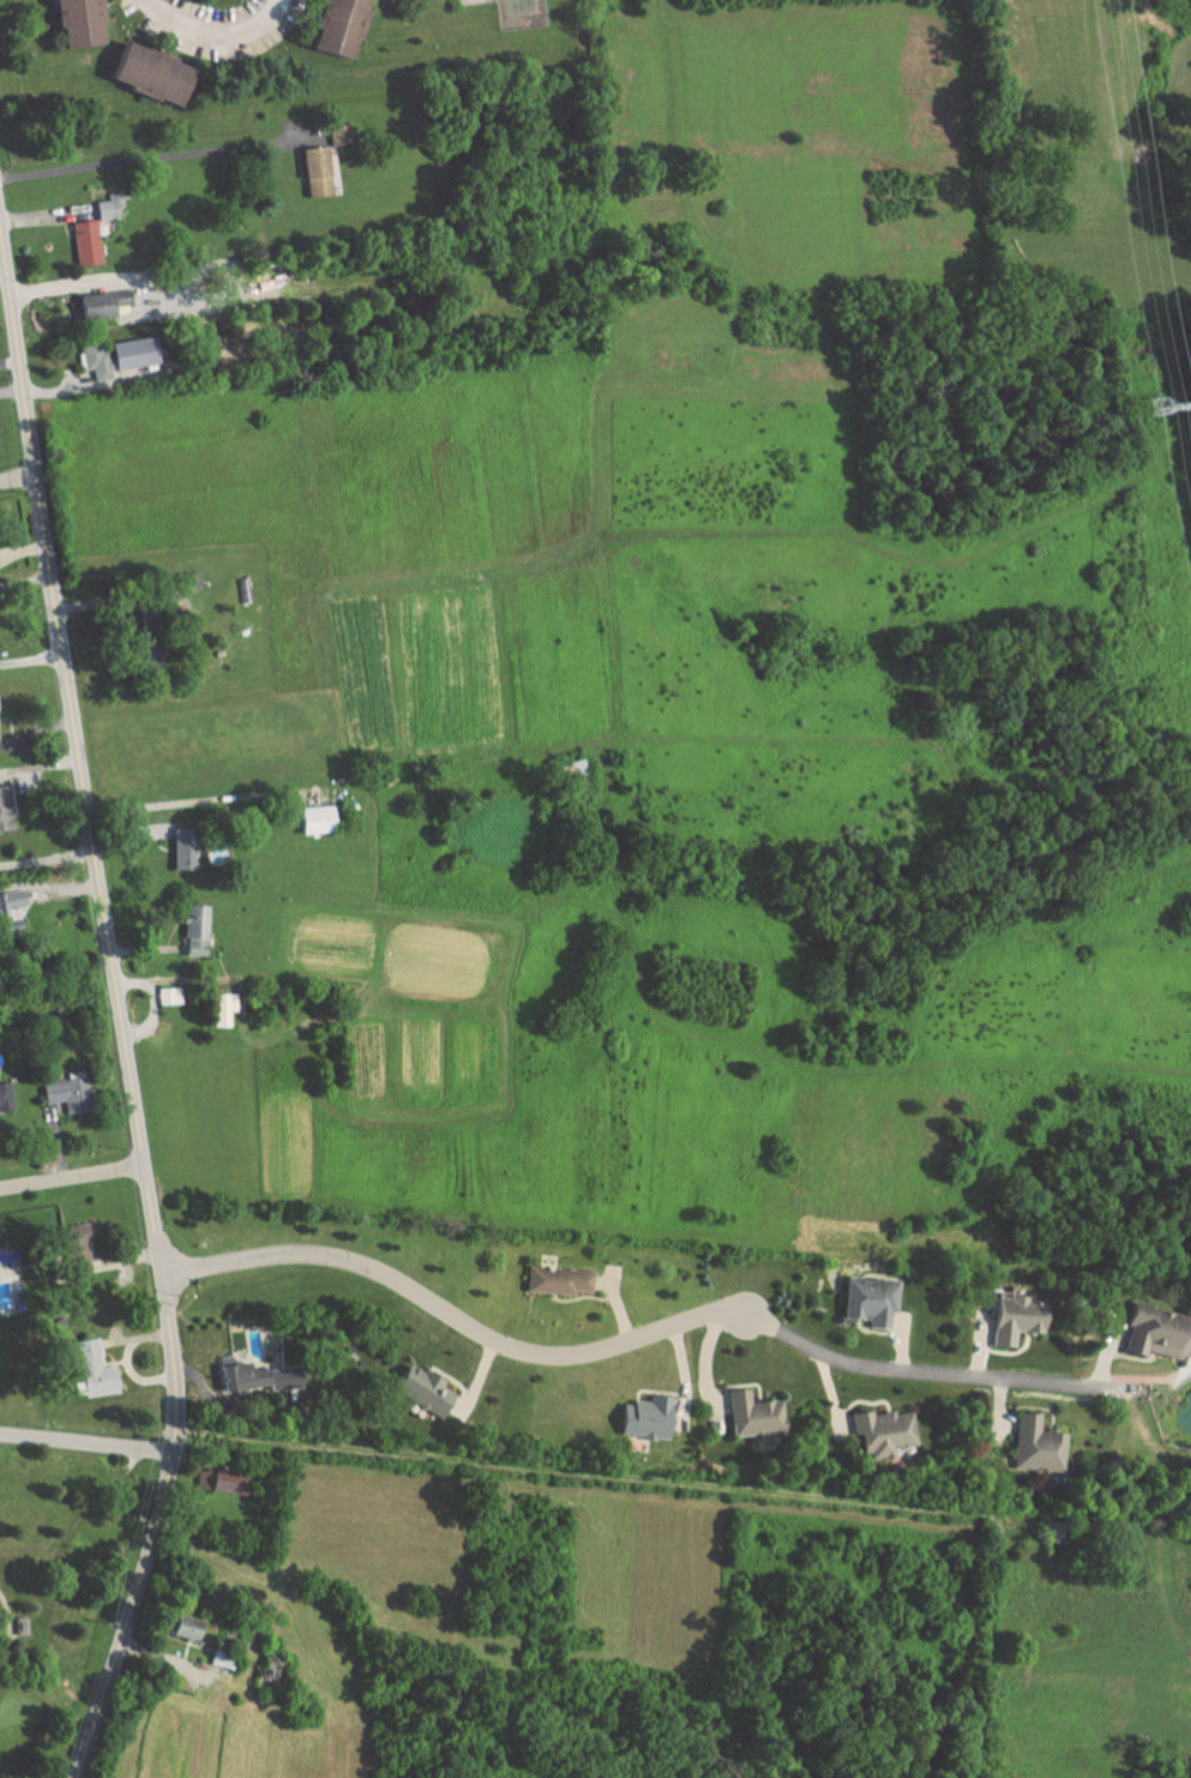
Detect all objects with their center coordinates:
park: (518, 13)
building: (76, 22)
building: (336, 26)
road: (216, 30)
building: (149, 72)
building: (337, 133)
road: (149, 160)
building: (314, 170)
building: (108, 206)
building: (84, 241)
road: (101, 280)
building: (102, 302)
building: (118, 355)
power tower: (1159, 407)
road: (16, 477)
building: (145, 649)
road: (30, 662)
road: (185, 799)
building: (4, 811)
building: (314, 819)
building: (182, 848)
road: (48, 884)
building: (10, 911)
building: (194, 930)
building: (168, 996)
road: (119, 1016)
building: (67, 1093)
building: (5, 1097)
road: (72, 1177)
building: (557, 1280)
building: (867, 1301)
road: (450, 1316)
building: (1015, 1319)
building: (1154, 1338)
building: (92, 1371)
road: (933, 1374)
building: (254, 1378)
building: (421, 1389)
building: (752, 1416)
building: (645, 1418)
building: (882, 1432)
road: (85, 1442)
building: (1036, 1447)
building: (223, 1482)
road: (700, 1497)
park: (66, 1588)
road: (10, 1624)
building: (184, 1626)
building: (172, 1646)
building: (223, 1658)
building: (265, 1672)

